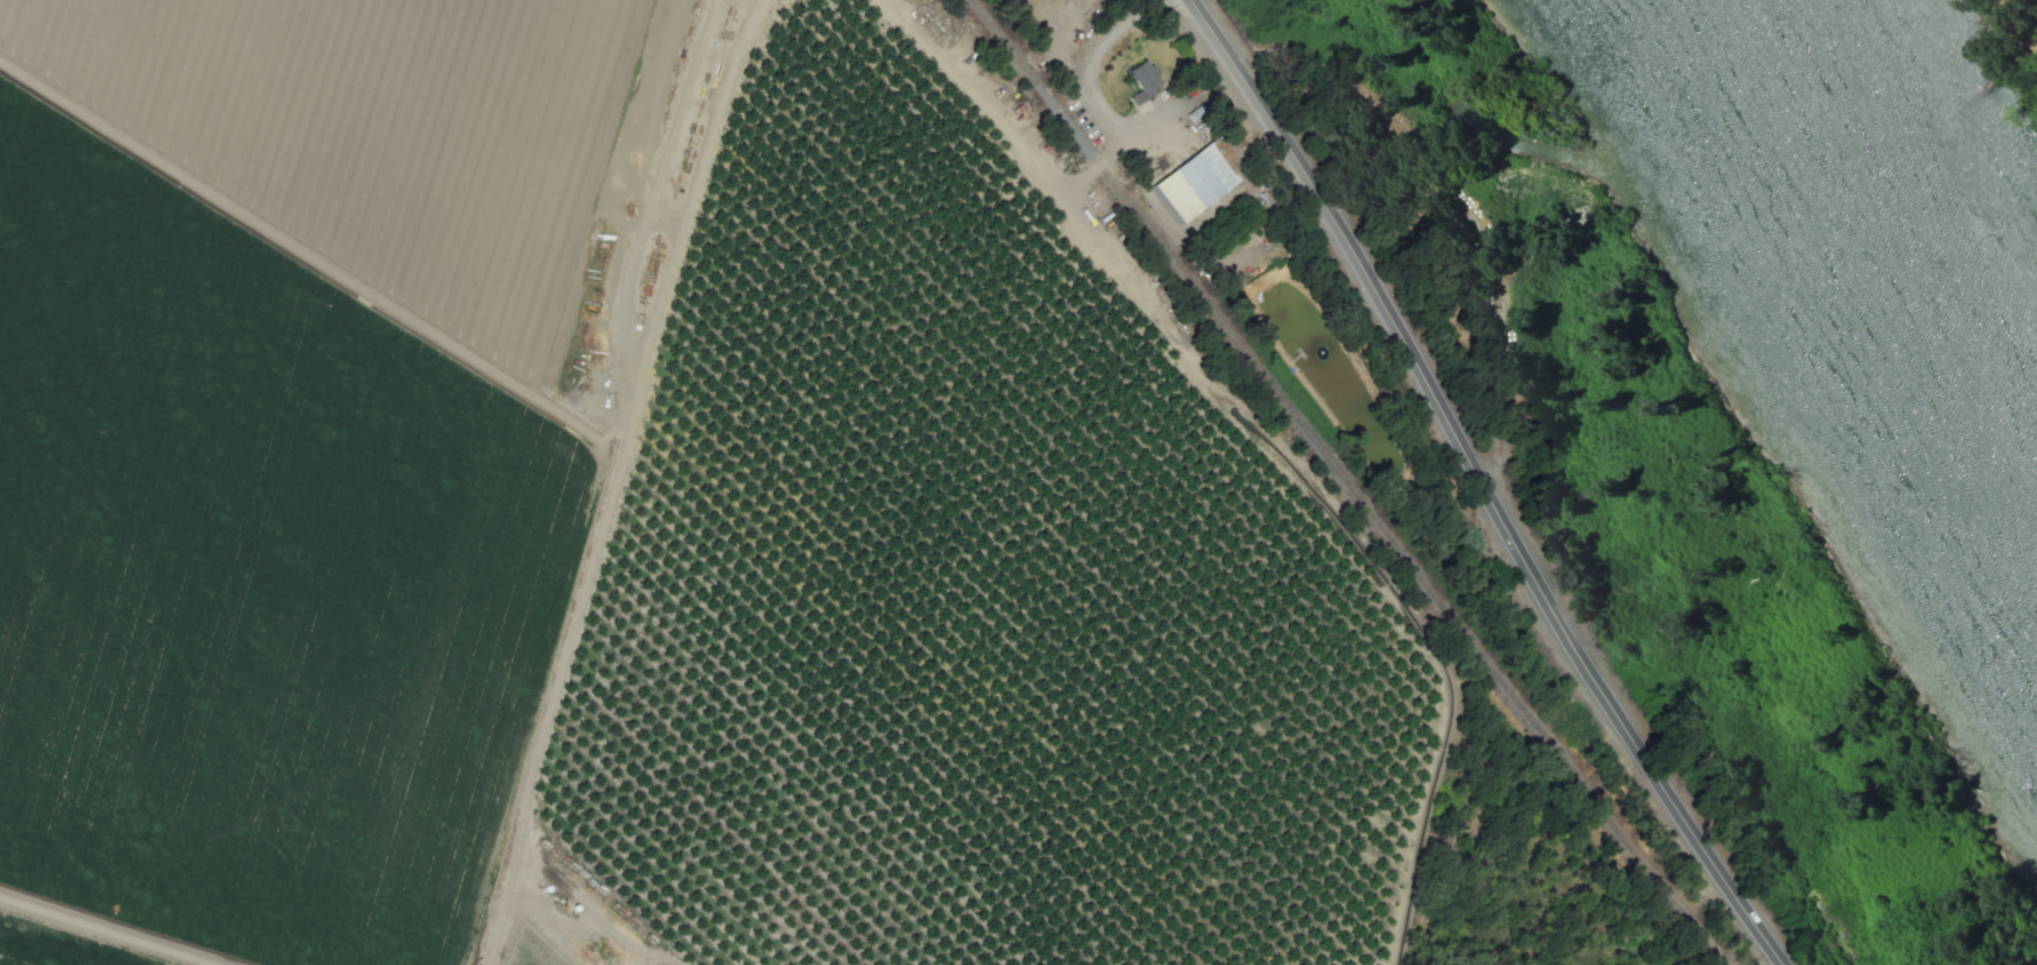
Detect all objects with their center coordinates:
road: (1099, 58)
building: (1142, 80)
road: (1121, 147)
building: (1194, 181)
road: (1058, 196)
river: (1904, 218)
road: (1167, 221)
railway: (1345, 482)
road: (1476, 483)
crop: (644, 517)

